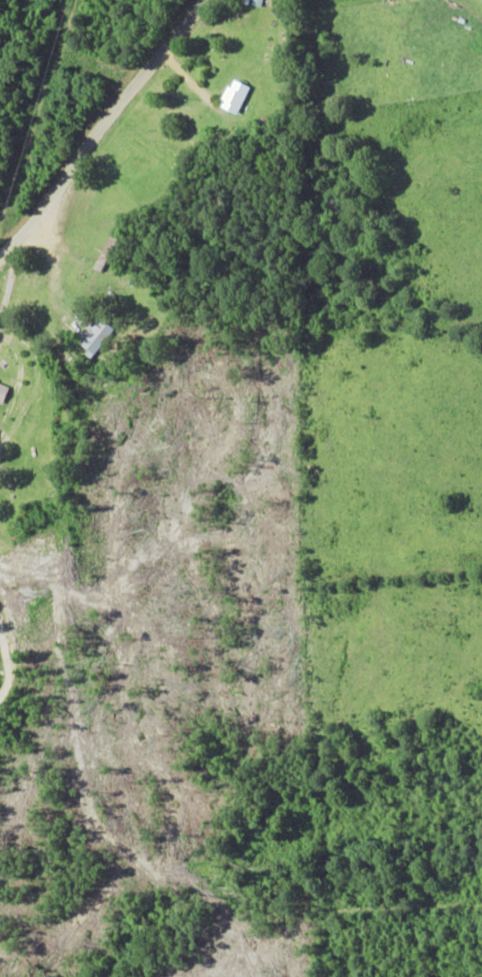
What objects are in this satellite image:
building: (257, 2)
building: (234, 96)
road: (96, 146)
building: (96, 335)
building: (3, 391)

